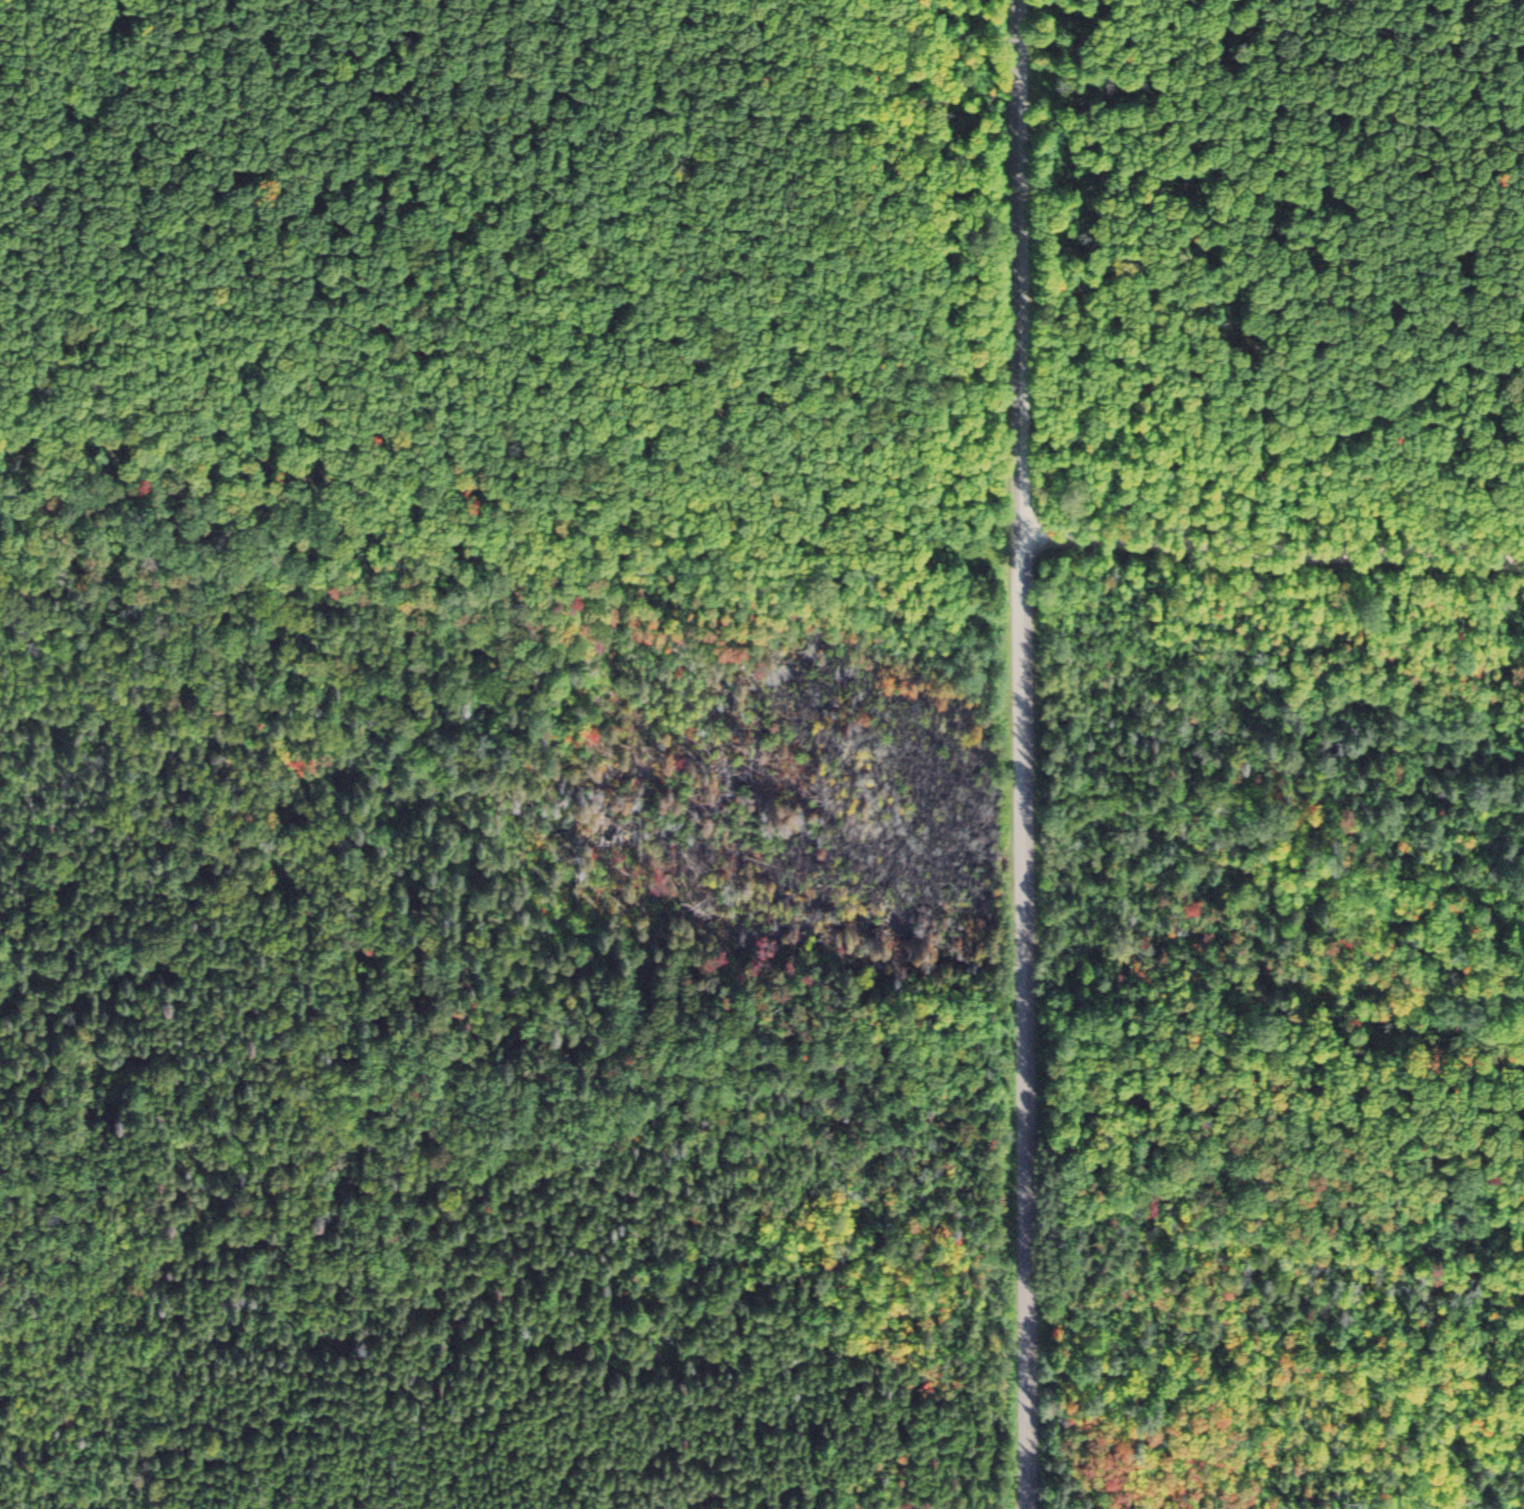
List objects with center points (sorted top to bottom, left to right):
road: (506, 230)
road: (1277, 546)
road: (1032, 754)

